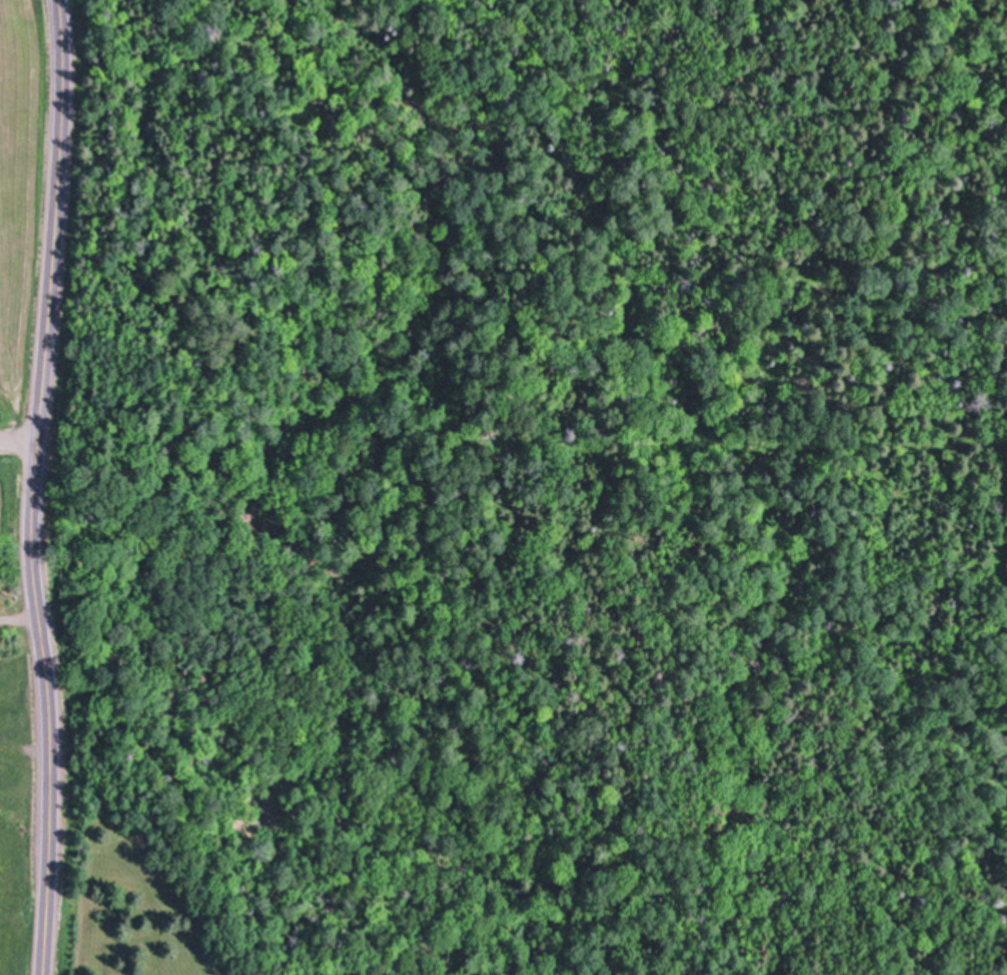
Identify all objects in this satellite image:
road: (17, 442)
road: (32, 487)

